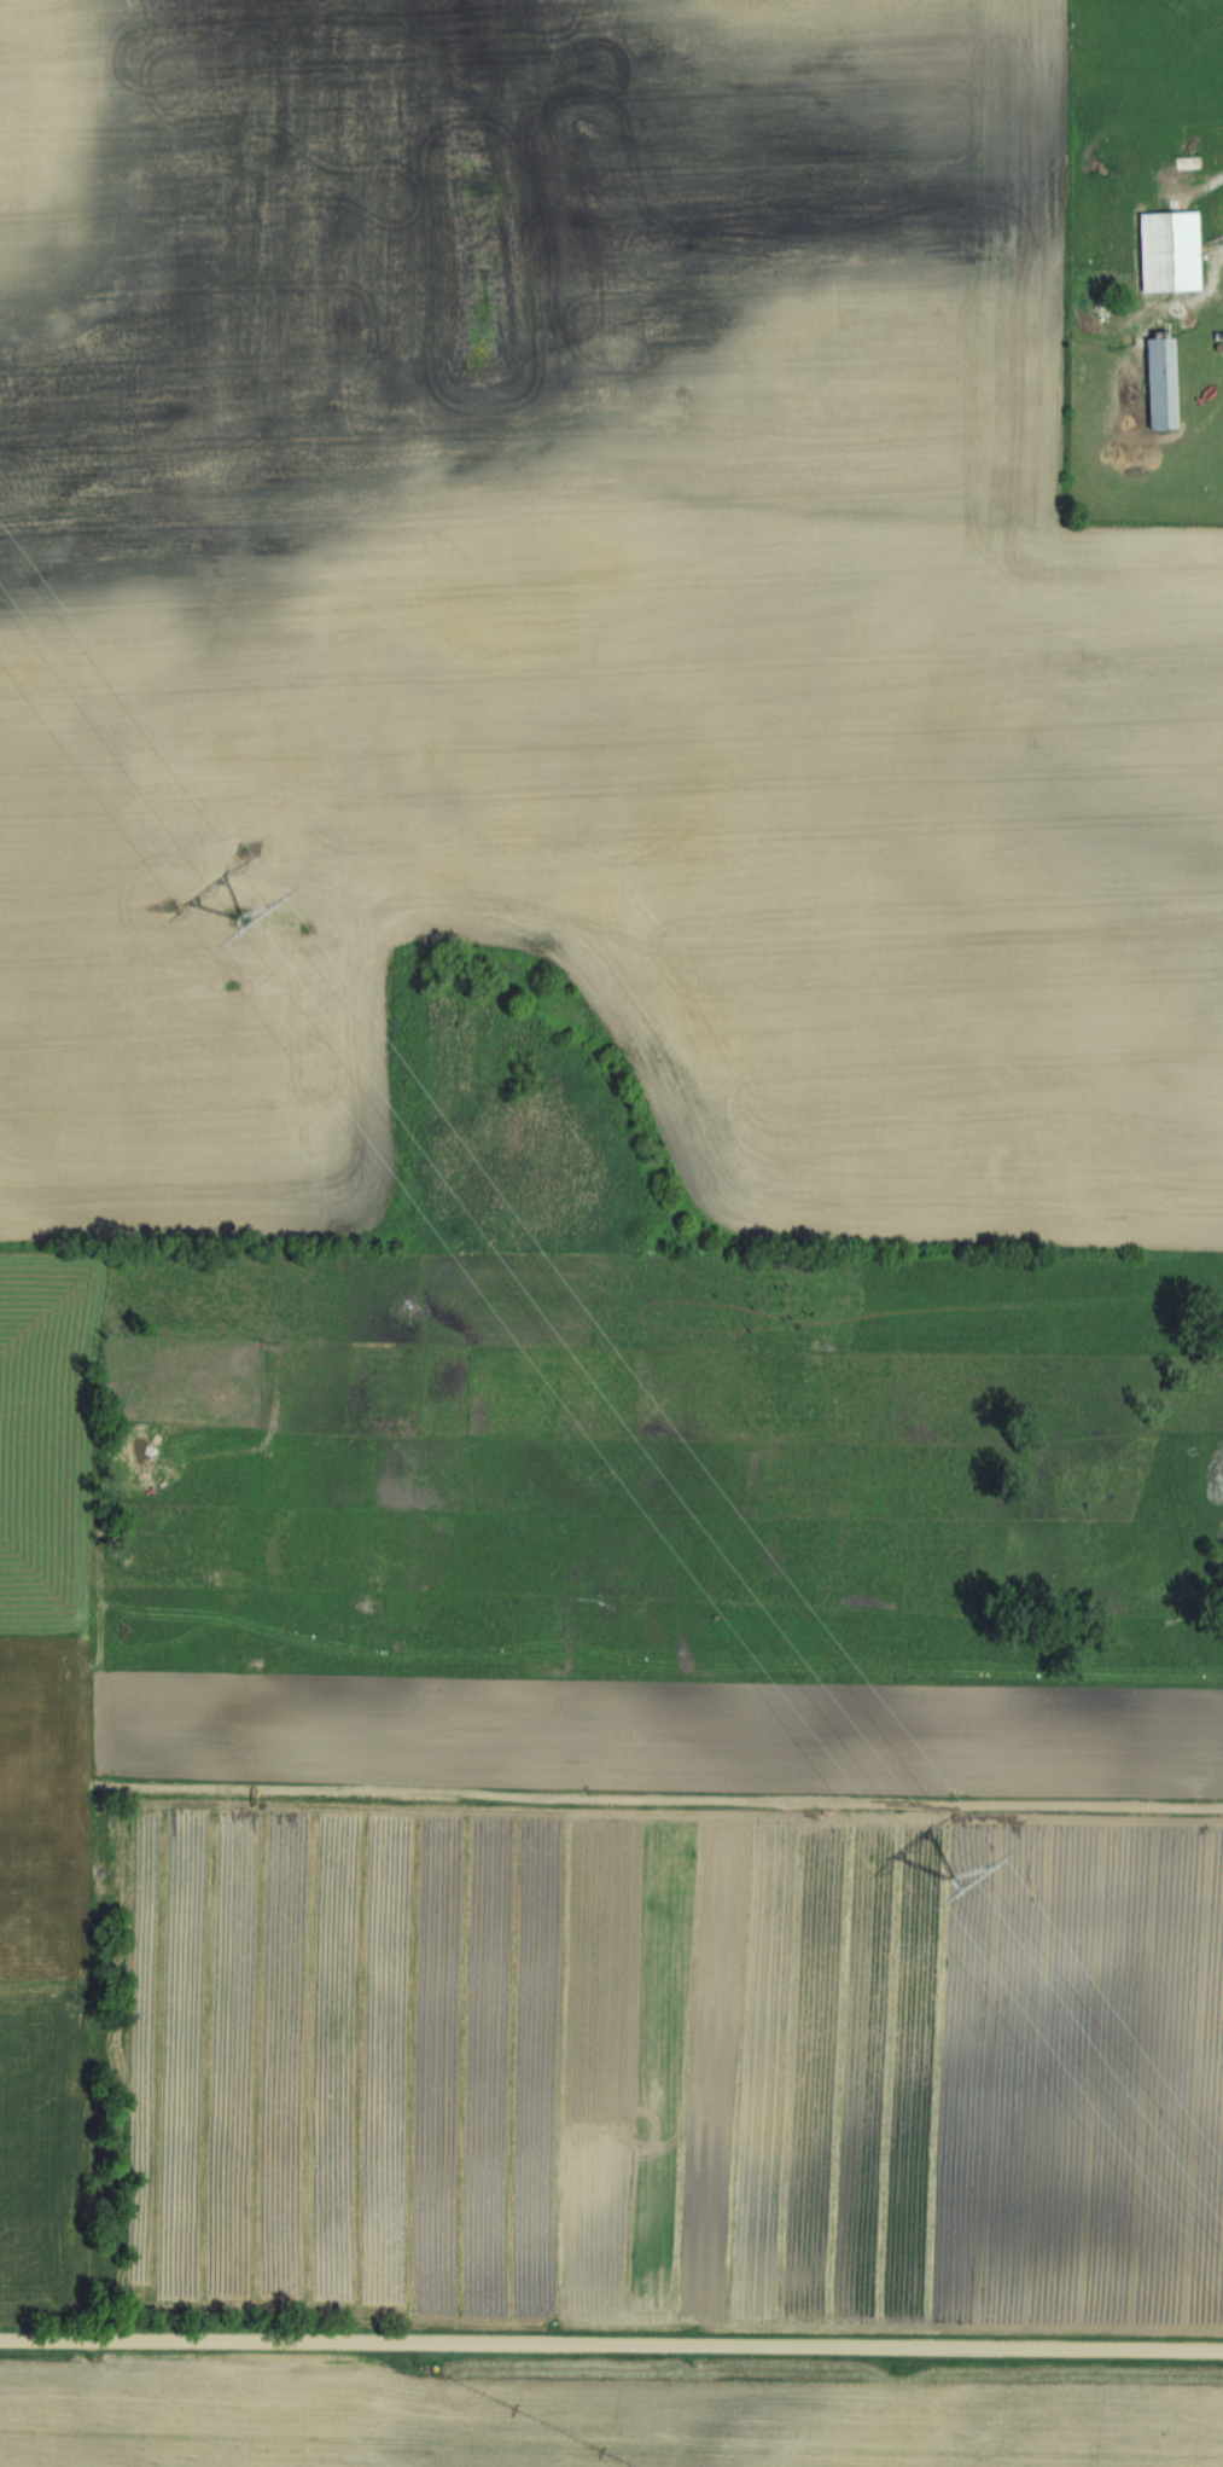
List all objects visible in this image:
building: (1171, 250)
road: (1184, 303)
building: (1163, 383)
power tower: (238, 921)
power tower: (951, 1877)
road: (611, 2345)

